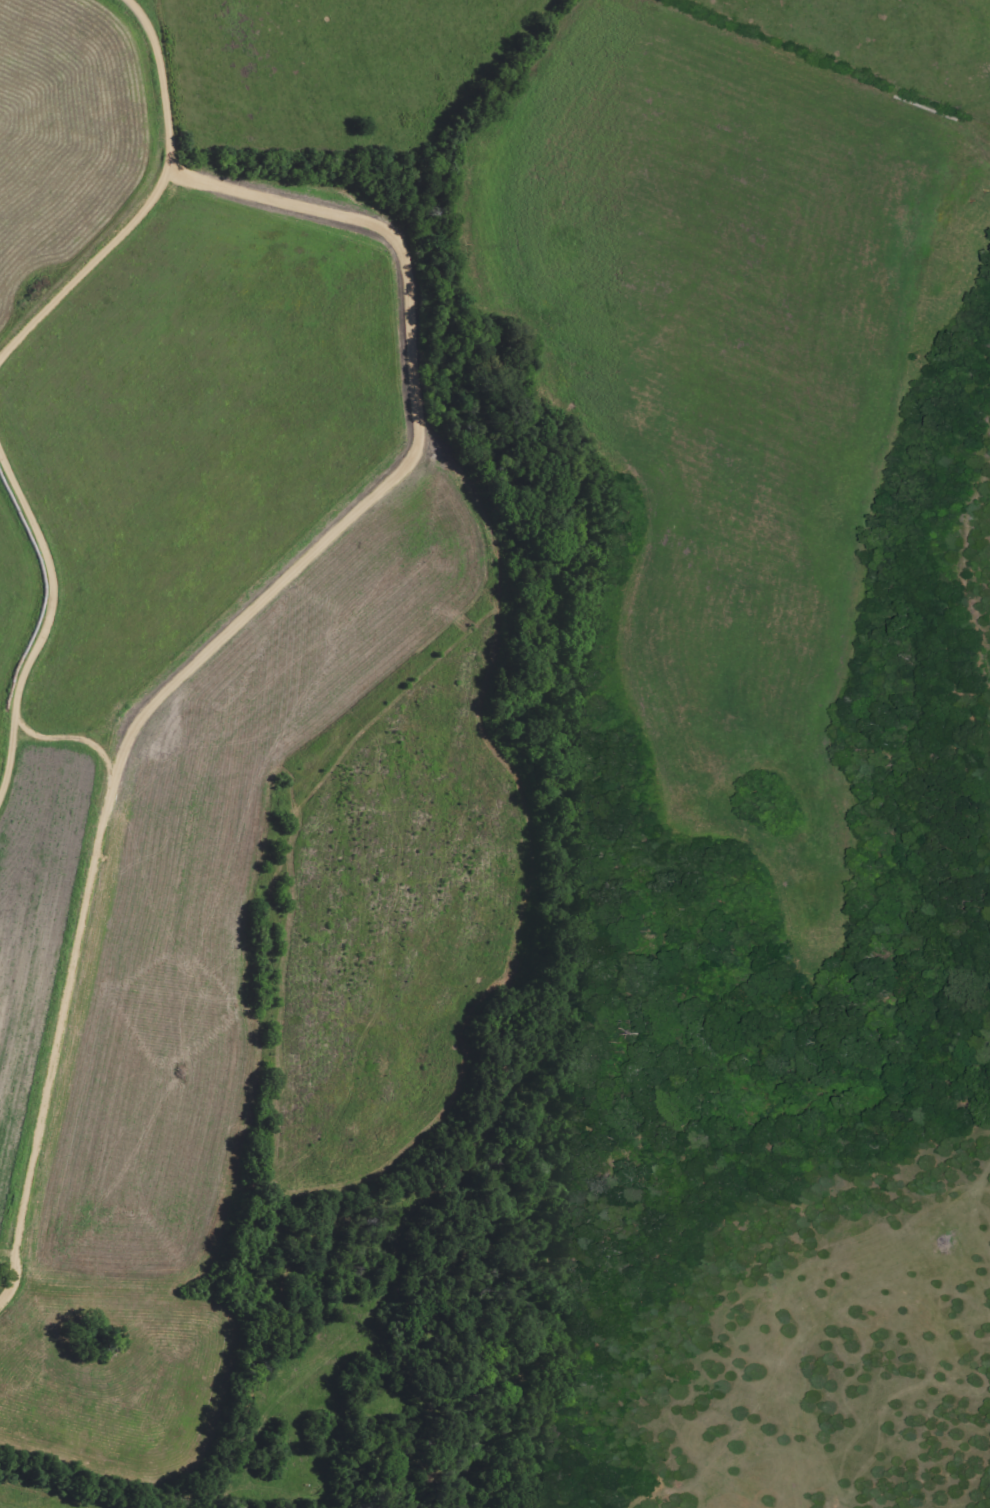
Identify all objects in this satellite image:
road: (149, 200)
road: (46, 623)

